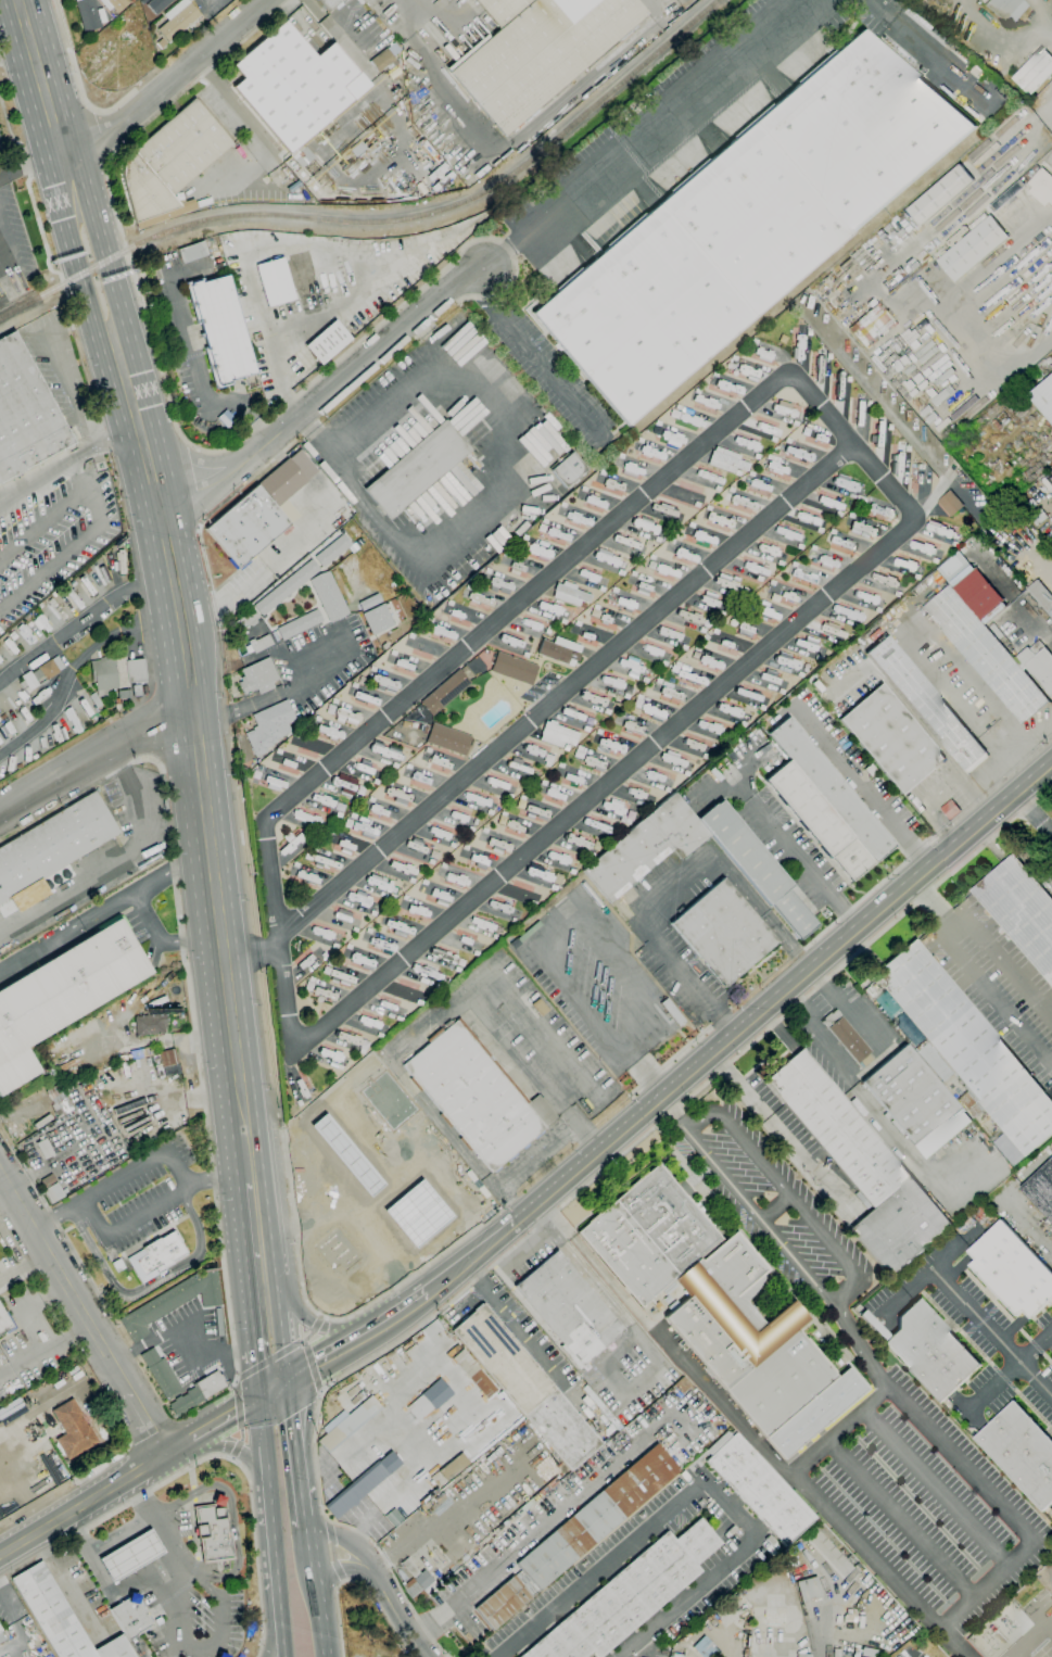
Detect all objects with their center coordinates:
road: (25, 3)
building: (328, 3)
building: (113, 4)
building: (157, 4)
road: (651, 7)
building: (1006, 9)
building: (89, 14)
building: (178, 18)
road: (347, 47)
road: (923, 48)
road: (15, 49)
building: (537, 51)
building: (384, 61)
building: (1034, 72)
road: (77, 79)
road: (436, 80)
road: (170, 84)
building: (295, 85)
road: (579, 88)
road: (166, 106)
road: (643, 134)
road: (99, 136)
road: (261, 139)
building: (358, 149)
road: (30, 164)
building: (170, 164)
road: (29, 175)
building: (1041, 187)
building: (940, 194)
railway: (383, 222)
building: (750, 224)
building: (973, 248)
road: (281, 249)
road: (89, 250)
building: (192, 252)
building: (275, 281)
building: (221, 329)
building: (328, 342)
building: (390, 352)
road: (529, 357)
road: (199, 364)
road: (63, 375)
road: (307, 387)
road: (327, 392)
building: (1043, 397)
building: (333, 401)
building: (25, 413)
road: (896, 415)
building: (226, 419)
road: (198, 451)
road: (276, 452)
building: (726, 460)
building: (417, 469)
building: (568, 469)
road: (51, 471)
building: (288, 477)
road: (75, 478)
road: (502, 478)
building: (760, 484)
road: (198, 490)
road: (963, 495)
road: (96, 503)
building: (949, 503)
road: (210, 516)
road: (39, 522)
building: (246, 527)
road: (198, 528)
building: (1051, 546)
building: (332, 551)
road: (168, 554)
road: (1050, 557)
road: (52, 566)
building: (287, 587)
building: (571, 594)
building: (328, 596)
building: (1041, 596)
building: (550, 608)
building: (384, 618)
building: (246, 620)
road: (1044, 621)
road: (81, 622)
building: (299, 624)
road: (915, 635)
building: (259, 643)
building: (724, 643)
building: (10, 645)
building: (560, 650)
building: (985, 655)
parking lot: (321, 660)
building: (1038, 665)
road: (76, 667)
building: (49, 668)
building: (515, 669)
building: (115, 673)
building: (258, 676)
building: (30, 681)
building: (137, 690)
road: (280, 692)
road: (567, 692)
building: (445, 693)
building: (124, 694)
building: (96, 700)
building: (926, 705)
building: (73, 720)
building: (269, 726)
building: (558, 735)
building: (891, 738)
building: (448, 739)
road: (1025, 739)
road: (98, 756)
road: (1000, 761)
building: (871, 770)
road: (864, 786)
building: (831, 789)
road: (939, 792)
building: (950, 809)
road: (1032, 813)
building: (819, 820)
building: (53, 844)
building: (292, 845)
building: (646, 846)
road: (211, 851)
road: (804, 862)
road: (111, 864)
building: (757, 868)
building: (572, 872)
road: (673, 884)
road: (871, 891)
road: (934, 906)
road: (142, 908)
building: (1019, 911)
road: (567, 919)
road: (74, 924)
building: (483, 924)
building: (723, 932)
road: (253, 958)
road: (1005, 962)
road: (478, 984)
parking lot: (997, 984)
building: (62, 995)
road: (993, 997)
road: (774, 999)
road: (288, 1001)
building: (150, 1025)
road: (540, 1027)
road: (861, 1027)
road: (426, 1028)
building: (847, 1037)
building: (965, 1047)
building: (140, 1053)
road: (198, 1055)
building: (168, 1058)
road: (644, 1070)
road: (531, 1073)
building: (476, 1095)
building: (58, 1101)
building: (325, 1101)
building: (915, 1101)
building: (299, 1102)
road: (681, 1110)
road: (877, 1113)
building: (42, 1121)
road: (783, 1134)
road: (231, 1137)
road: (453, 1139)
building: (45, 1149)
road: (538, 1160)
building: (860, 1165)
road: (143, 1166)
road: (455, 1167)
building: (48, 1180)
road: (232, 1180)
building: (1040, 1189)
building: (415, 1190)
building: (356, 1191)
gas station: (356, 1191)
building: (53, 1193)
road: (1005, 1196)
road: (570, 1198)
road: (787, 1198)
road: (771, 1210)
road: (54, 1220)
road: (757, 1224)
road: (126, 1225)
road: (269, 1238)
road: (524, 1251)
building: (156, 1256)
road: (929, 1268)
road: (242, 1269)
road: (583, 1270)
building: (1012, 1270)
road: (148, 1283)
road: (435, 1283)
building: (670, 1288)
road: (40, 1289)
building: (709, 1296)
building: (173, 1301)
road: (370, 1302)
road: (527, 1304)
road: (85, 1306)
building: (569, 1308)
road: (315, 1320)
building: (218, 1321)
road: (512, 1321)
building: (5, 1323)
road: (991, 1332)
parking lot: (187, 1338)
road: (663, 1338)
road: (181, 1341)
road: (342, 1349)
building: (927, 1350)
road: (282, 1352)
road: (1009, 1369)
building: (473, 1373)
building: (161, 1374)
road: (299, 1375)
road: (254, 1376)
traffic signals: (289, 1381)
building: (525, 1387)
road: (274, 1390)
building: (198, 1392)
road: (626, 1392)
traffic signals: (258, 1400)
building: (422, 1405)
road: (307, 1413)
building: (815, 1413)
road: (224, 1417)
road: (293, 1419)
road: (240, 1421)
road: (262, 1422)
building: (348, 1424)
building: (73, 1430)
road: (180, 1443)
road: (231, 1446)
building: (1021, 1452)
road: (266, 1456)
road: (960, 1458)
building: (454, 1467)
road: (243, 1469)
road: (192, 1478)
road: (699, 1482)
building: (362, 1484)
road: (798, 1484)
road: (934, 1485)
road: (302, 1487)
building: (758, 1488)
road: (194, 1493)
building: (218, 1501)
parking lot: (927, 1502)
road: (85, 1503)
road: (231, 1507)
road: (900, 1518)
building: (595, 1519)
road: (193, 1528)
road: (161, 1529)
building: (213, 1533)
road: (122, 1535)
road: (348, 1543)
road: (520, 1543)
road: (274, 1548)
road: (332, 1552)
building: (828, 1553)
building: (130, 1555)
gas station: (130, 1555)
building: (409, 1567)
road: (343, 1570)
road: (987, 1582)
road: (315, 1585)
road: (212, 1590)
building: (809, 1590)
building: (414, 1591)
road: (110, 1592)
road: (178, 1592)
building: (630, 1595)
road: (113, 1601)
building: (502, 1603)
road: (338, 1610)
building: (60, 1617)
building: (130, 1617)
road: (401, 1618)
road: (123, 1621)
road: (1050, 1629)
building: (0, 1630)
building: (1, 1637)
road: (1030, 1642)
road: (274, 1643)
road: (282, 1643)
road: (185, 1644)
road: (138, 1647)
building: (706, 1647)
road: (175, 1648)
building: (872, 1653)
building: (221, 1655)
building: (803, 1655)

